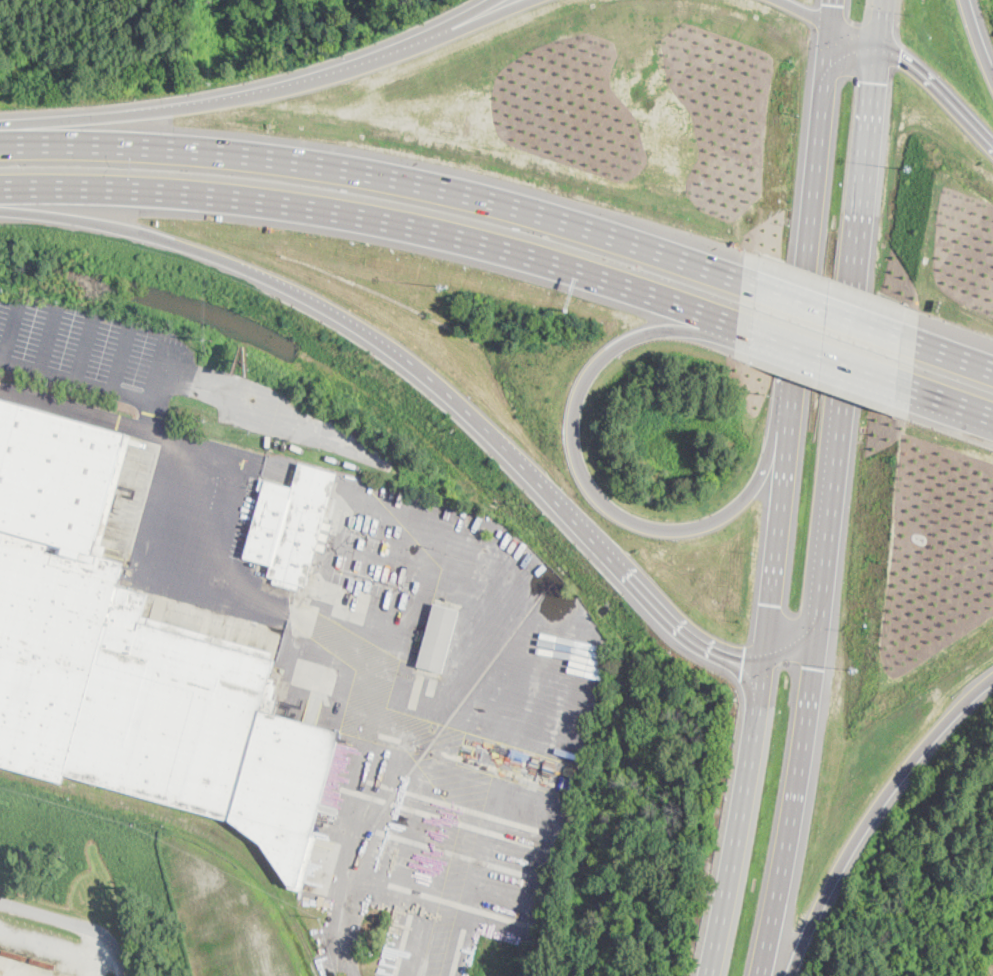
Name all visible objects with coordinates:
traffic signals: (834, 3)
road: (806, 12)
road: (468, 16)
road: (980, 37)
traffic signals: (900, 57)
road: (922, 75)
traffic signals: (877, 82)
road: (270, 88)
road: (144, 146)
road: (187, 186)
road: (522, 206)
road: (564, 263)
road: (826, 311)
road: (10, 330)
road: (50, 337)
road: (84, 347)
road: (949, 354)
road: (123, 357)
road: (831, 357)
road: (168, 376)
road: (79, 383)
road: (446, 385)
road: (952, 400)
road: (587, 475)
road: (205, 480)
road: (784, 489)
road: (835, 489)
building: (291, 525)
traffic signals: (771, 604)
building: (438, 639)
building: (132, 661)
traffic signals: (744, 662)
traffic signals: (815, 667)
railway: (414, 765)
road: (872, 814)
railway: (211, 821)
railway: (193, 825)
road: (74, 925)
road: (58, 948)

